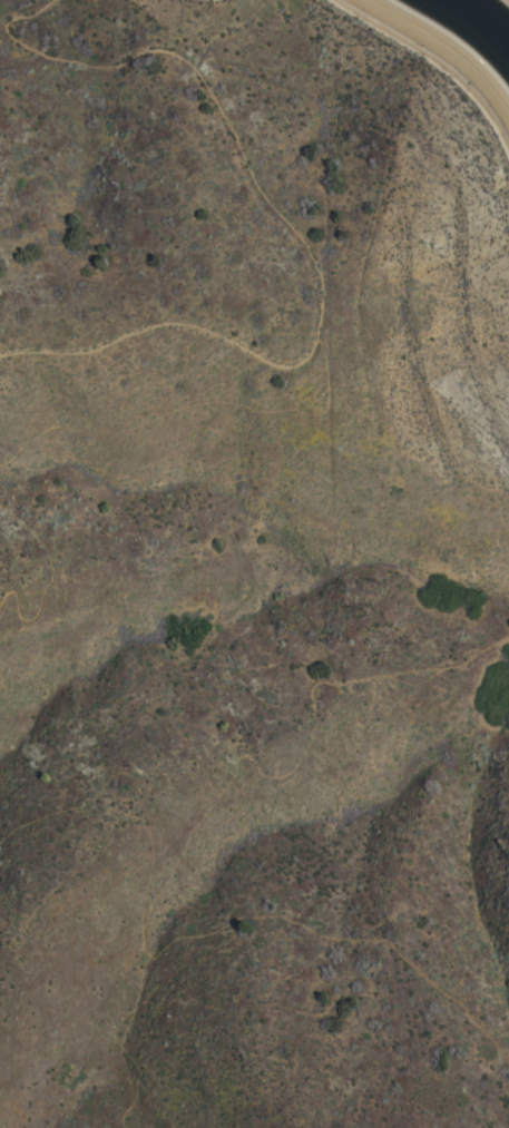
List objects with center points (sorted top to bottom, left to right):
road: (447, 50)

